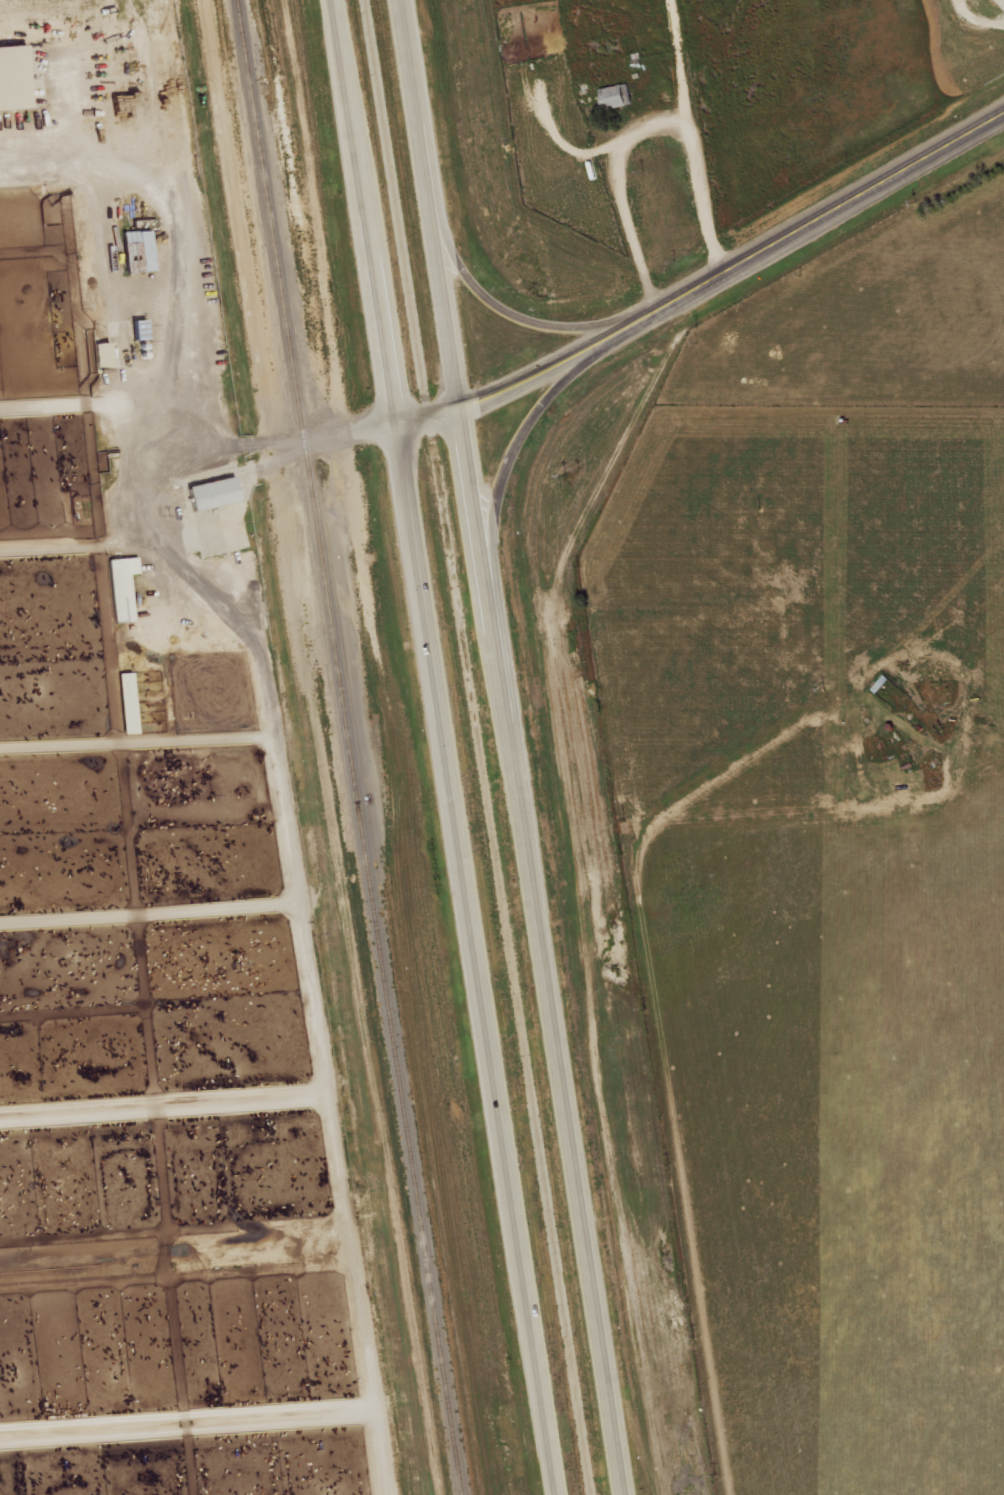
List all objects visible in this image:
building: (14, 77)
building: (614, 96)
road: (427, 204)
road: (363, 211)
building: (139, 251)
road: (732, 261)
road: (537, 319)
road: (171, 337)
building: (103, 353)
road: (426, 415)
road: (523, 424)
building: (215, 492)
building: (123, 586)
building: (128, 702)
railway: (347, 747)
road: (535, 951)
road: (476, 958)

